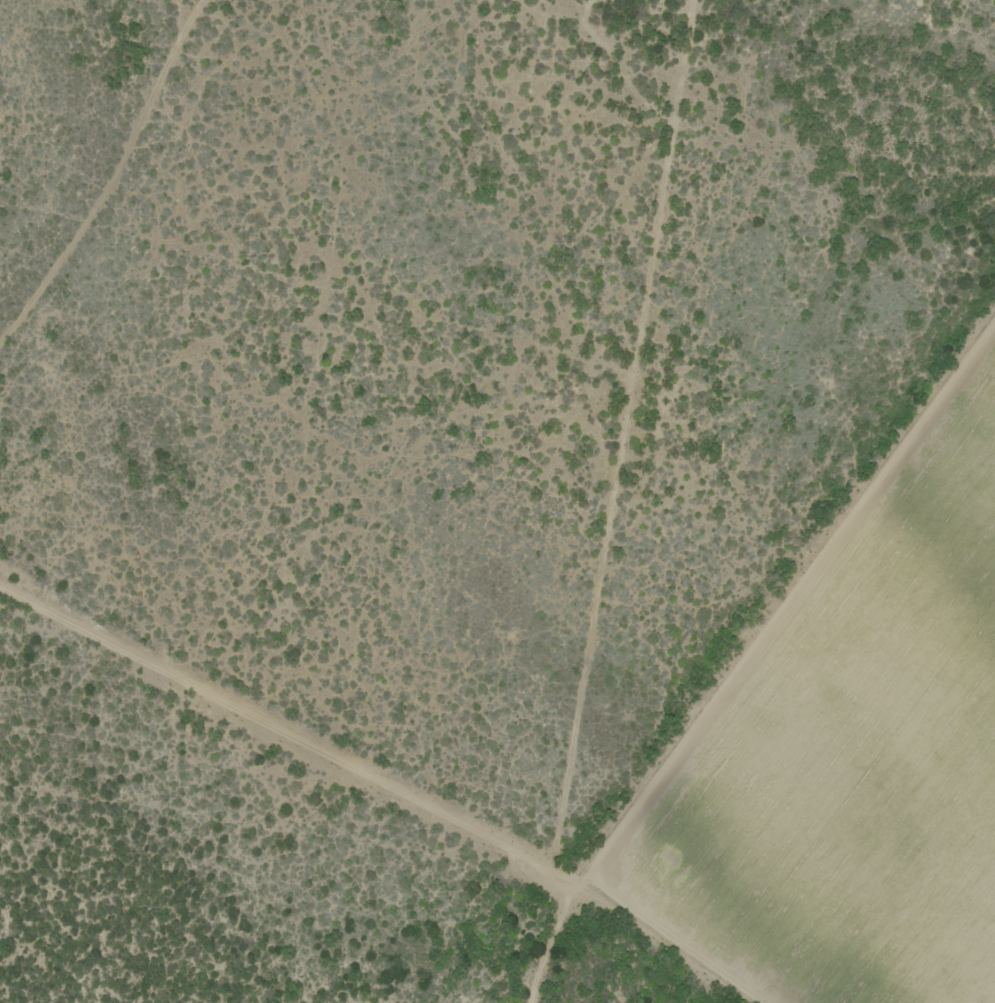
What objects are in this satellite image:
road: (789, 579)
road: (390, 775)
road: (561, 935)

